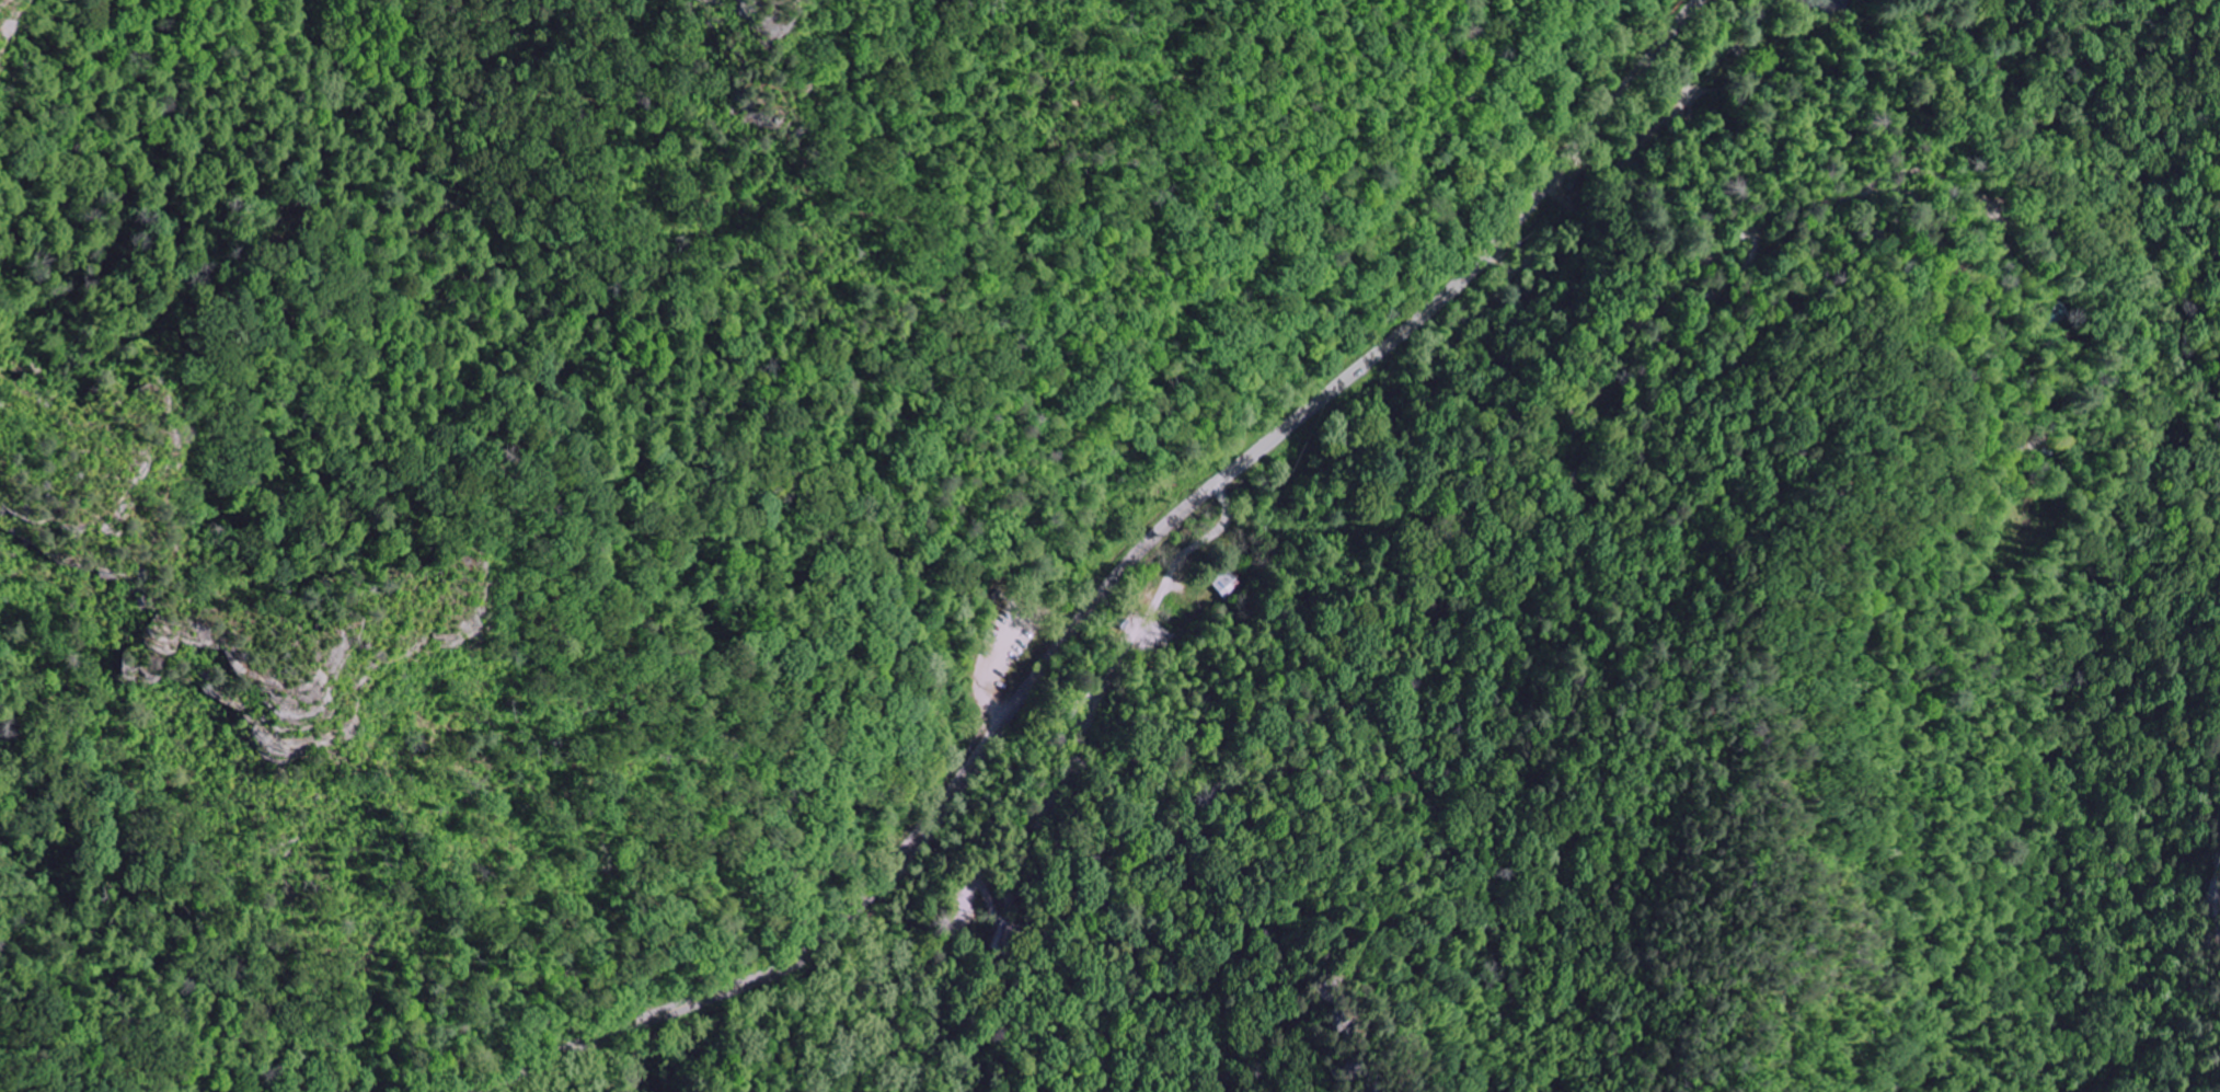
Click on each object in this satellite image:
road: (1107, 584)
parking lot: (994, 623)
parking lot: (1007, 648)
road: (1005, 650)
road: (1068, 770)
road: (886, 892)
road: (1128, 927)
road: (863, 941)
road: (910, 1018)
road: (911, 1054)

